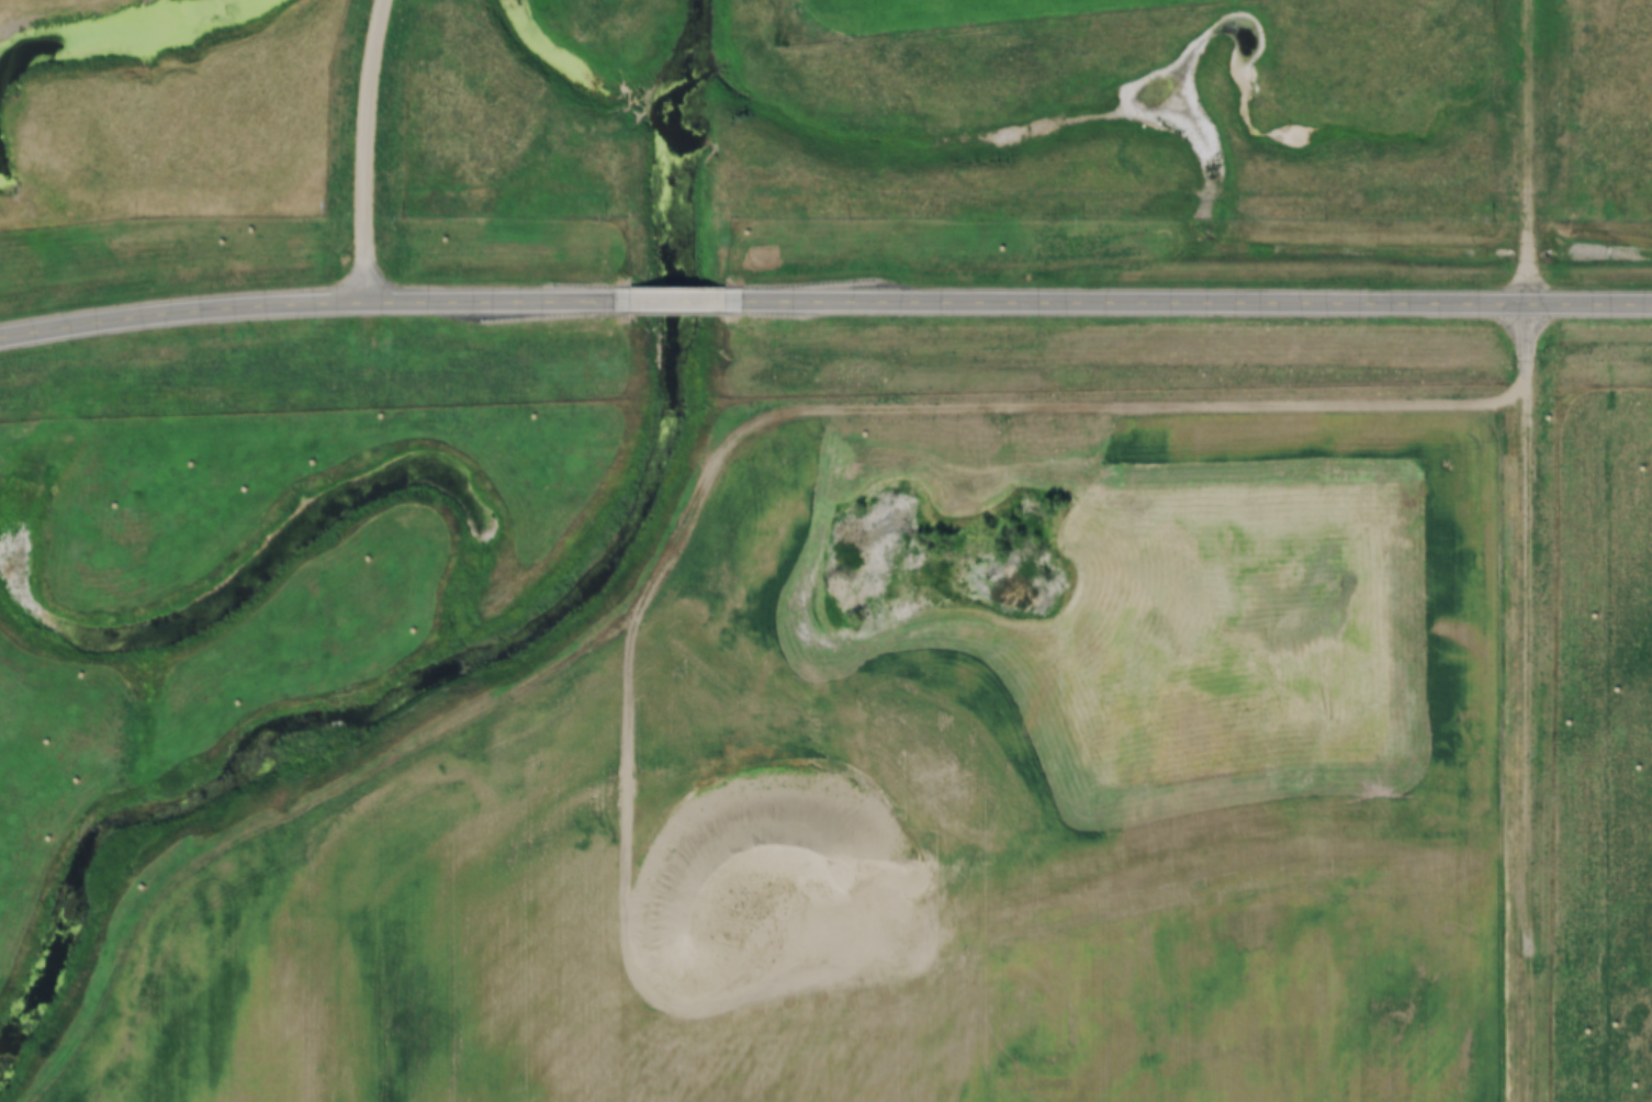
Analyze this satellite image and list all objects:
road: (368, 150)
road: (686, 302)
road: (1192, 304)
road: (317, 305)
road: (695, 517)
road: (1524, 551)
building: (1607, 1099)

